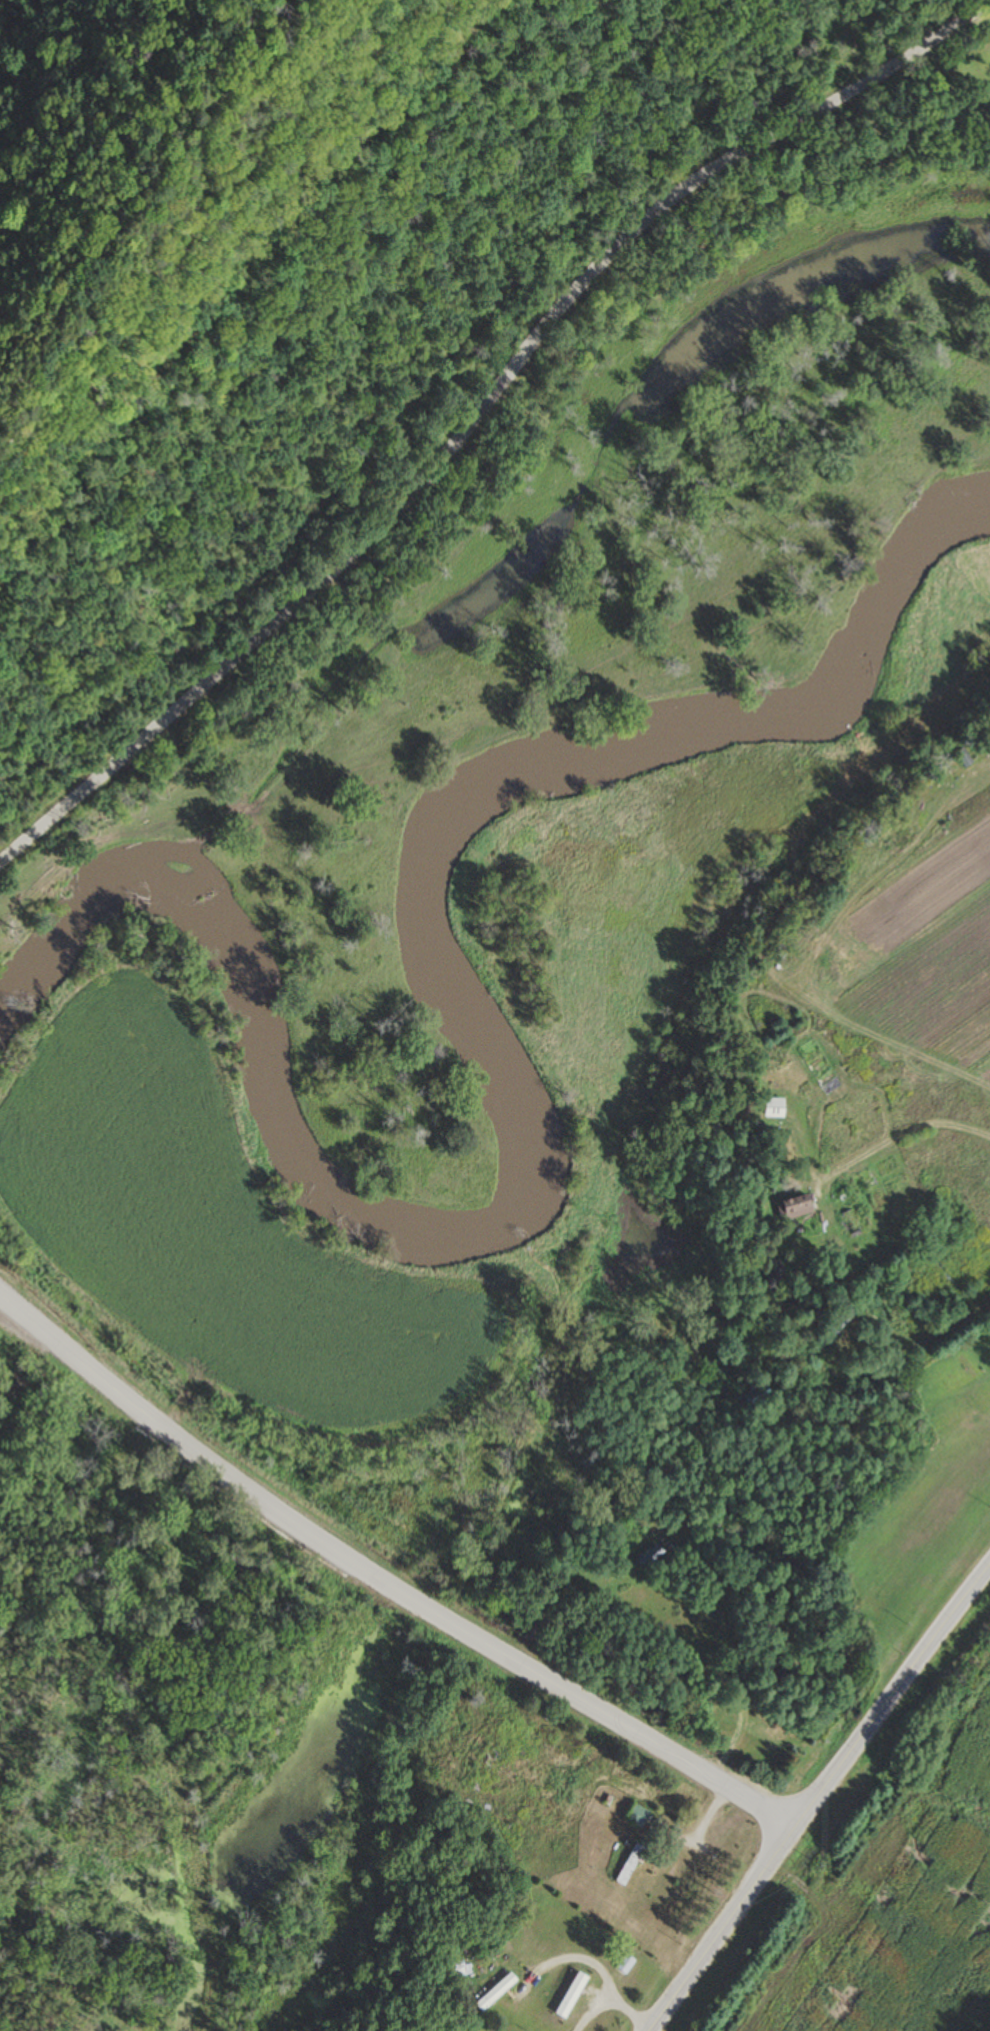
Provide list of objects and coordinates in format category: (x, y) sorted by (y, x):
road: (479, 412)
building: (962, 758)
river: (509, 1079)
building: (772, 1108)
road: (903, 1139)
building: (797, 1207)
building: (843, 1316)
building: (752, 1394)
road: (383, 1581)
road: (816, 1796)
building: (636, 1814)
building: (624, 1964)
building: (494, 1993)
building: (570, 1995)

